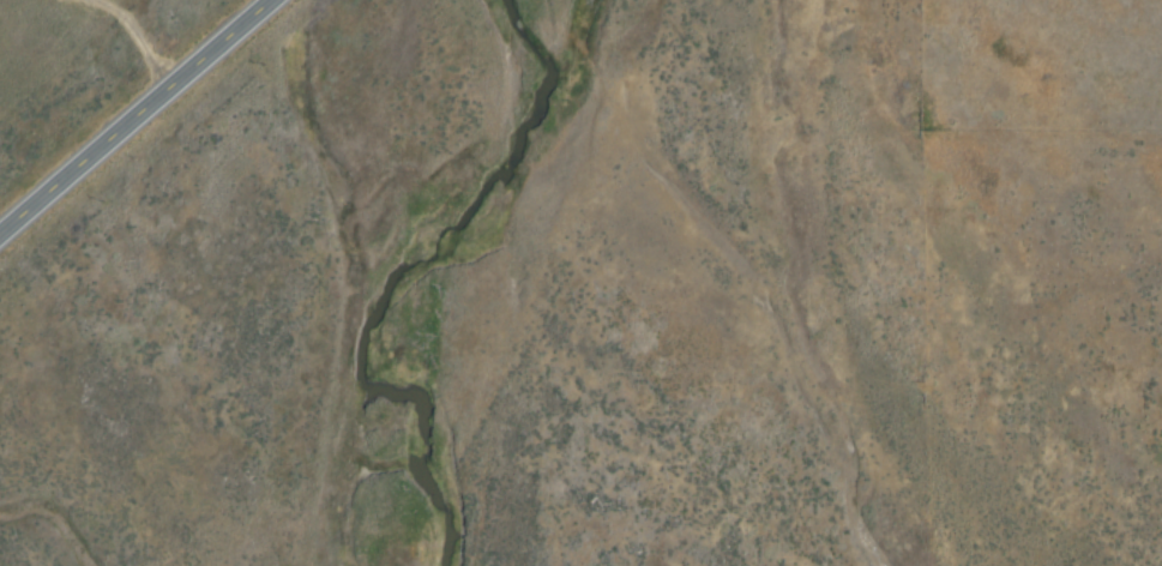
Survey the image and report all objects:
road: (145, 40)
road: (133, 116)

